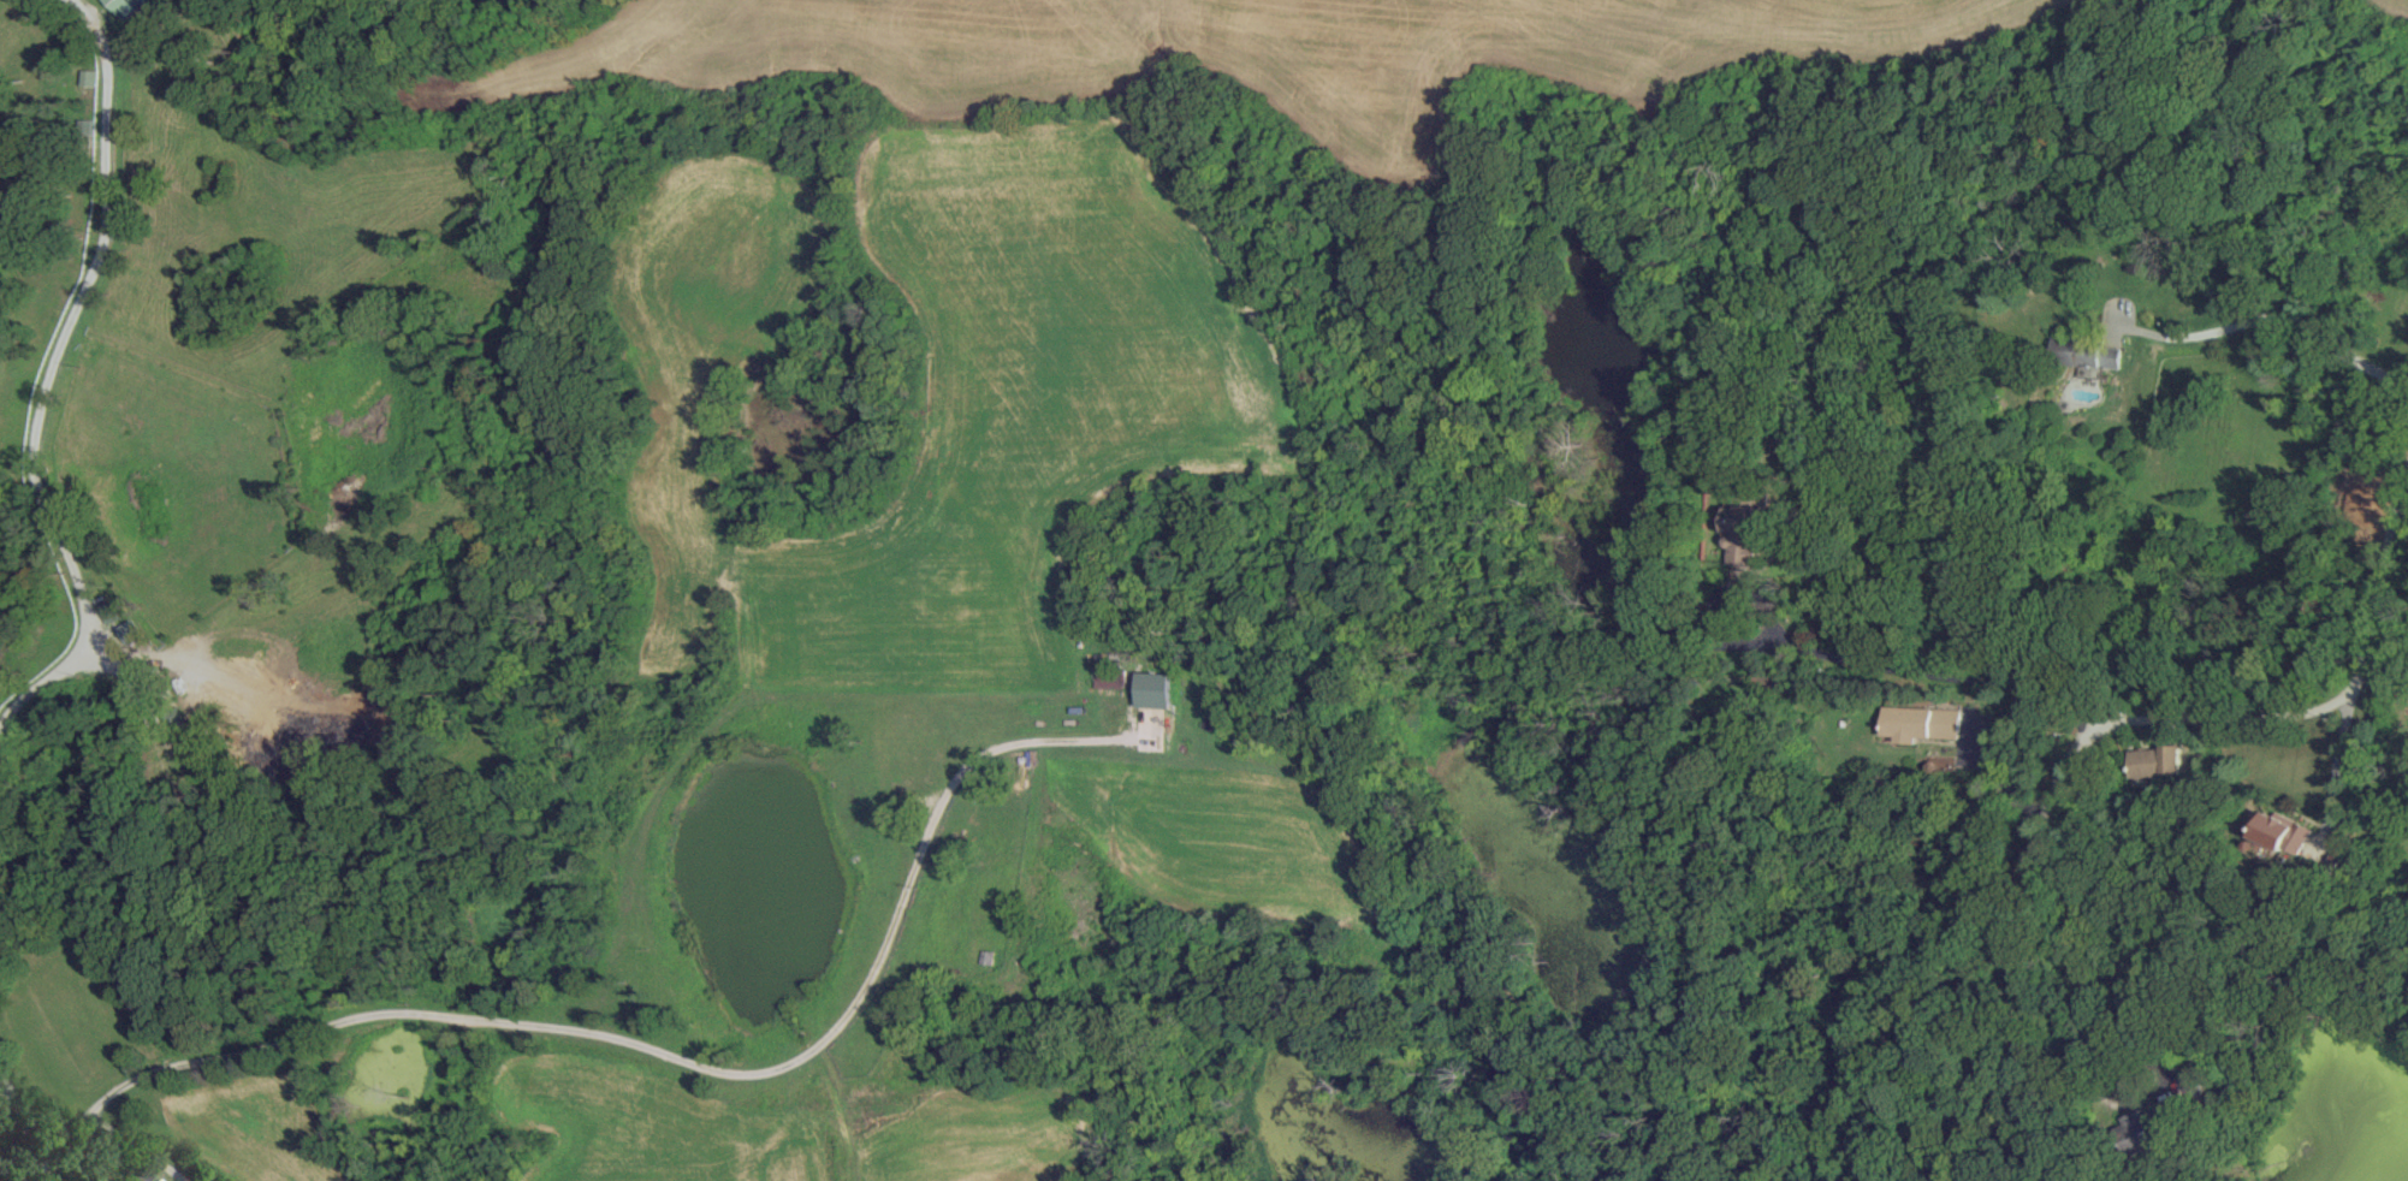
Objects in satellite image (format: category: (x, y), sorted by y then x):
crop: (2391, 5)
building: (127, 6)
crop: (1240, 49)
building: (90, 77)
road: (2278, 316)
building: (2088, 351)
road: (46, 375)
crop: (936, 390)
building: (1745, 528)
road: (2374, 568)
road: (1915, 670)
building: (1155, 689)
building: (1920, 723)
road: (2074, 747)
building: (2155, 760)
road: (2333, 772)
building: (2283, 831)
crop: (1178, 855)
road: (674, 1054)
road: (2152, 1098)
road: (60, 1116)
crop: (646, 1124)
building: (2153, 1126)
crop: (253, 1130)
crop: (965, 1130)

